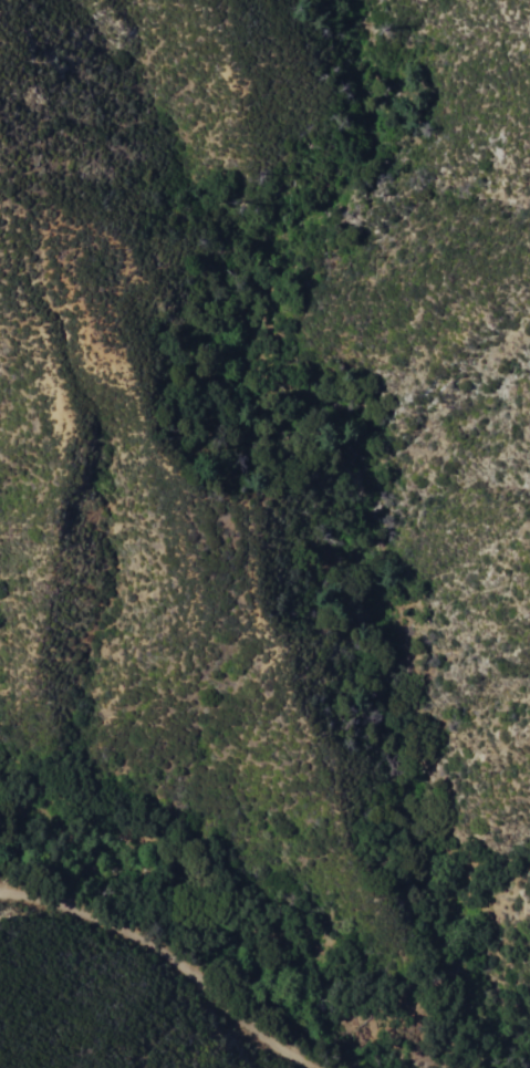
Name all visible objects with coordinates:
road: (154, 966)

